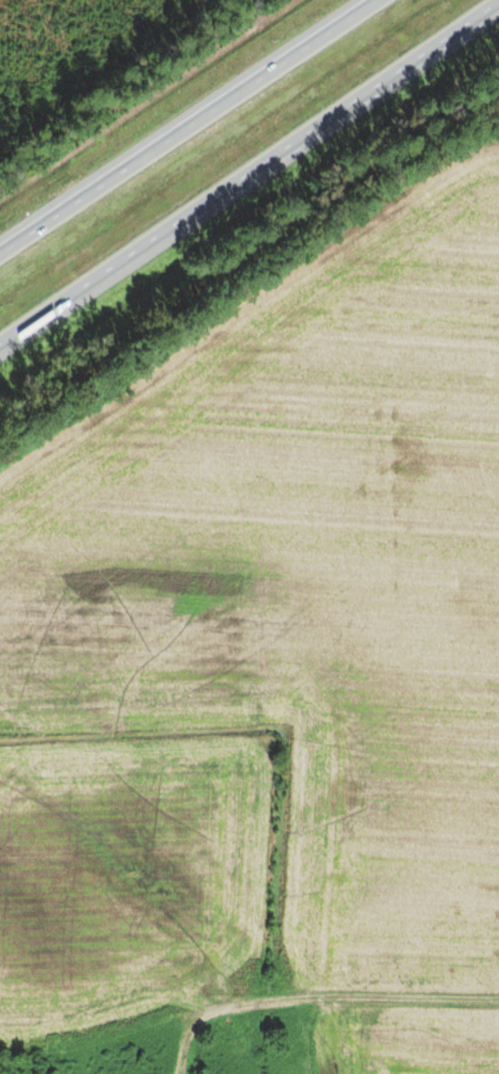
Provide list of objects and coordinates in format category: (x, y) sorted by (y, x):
road: (198, 131)
road: (249, 180)
road: (220, 975)

